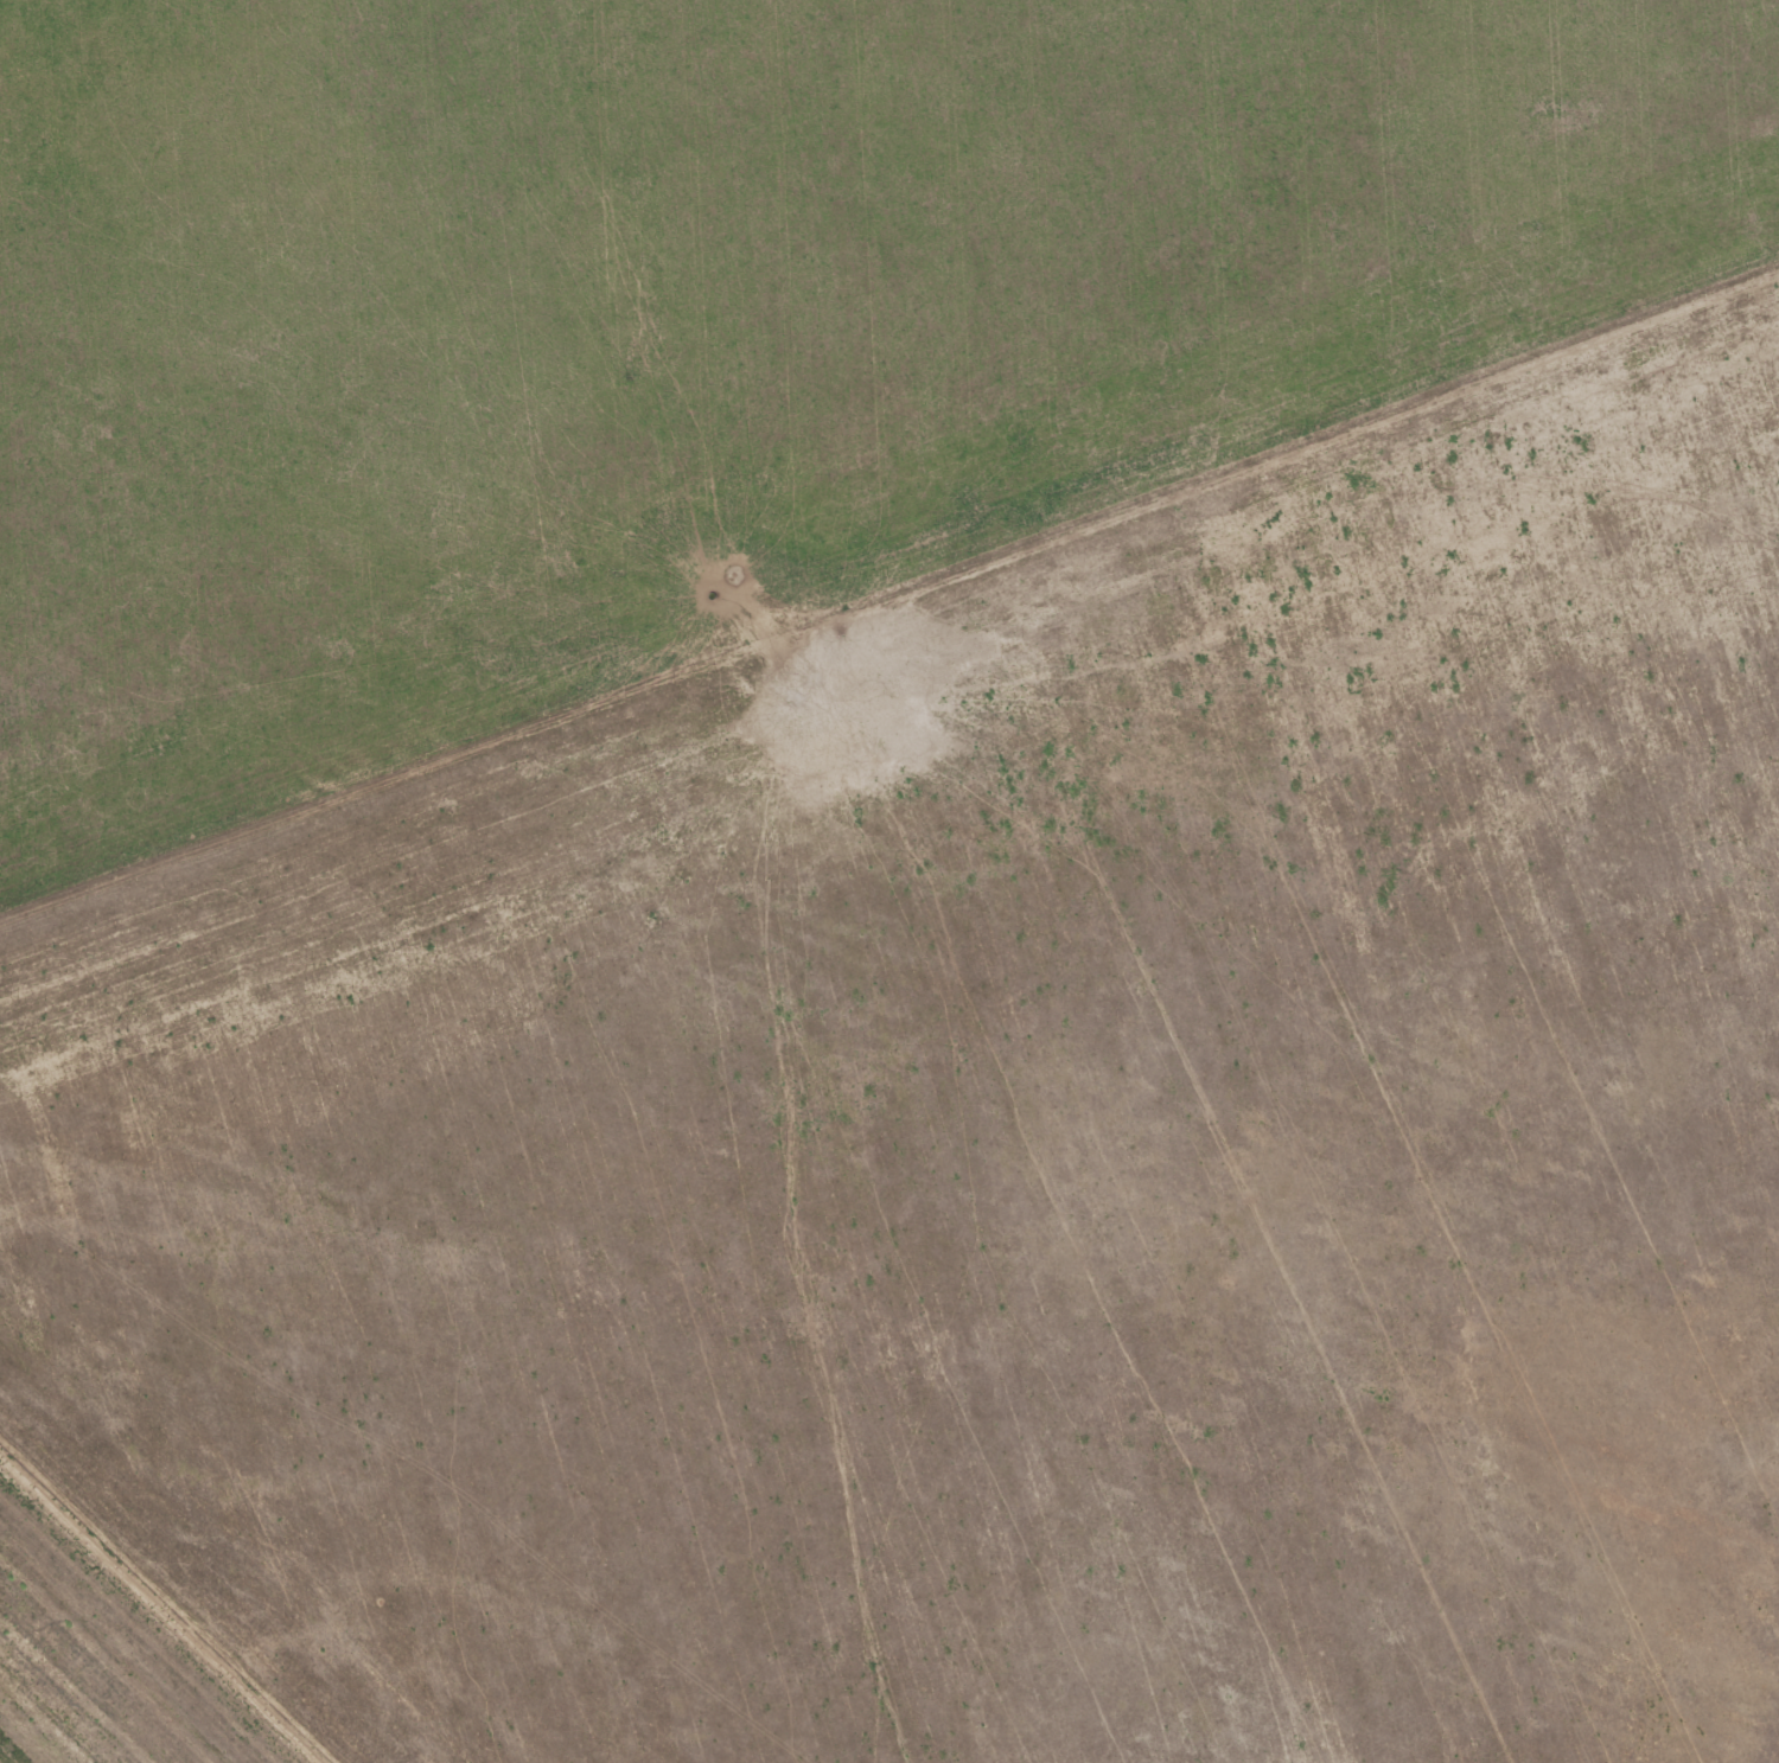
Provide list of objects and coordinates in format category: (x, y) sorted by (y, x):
road: (24, 1590)
road: (127, 1688)

